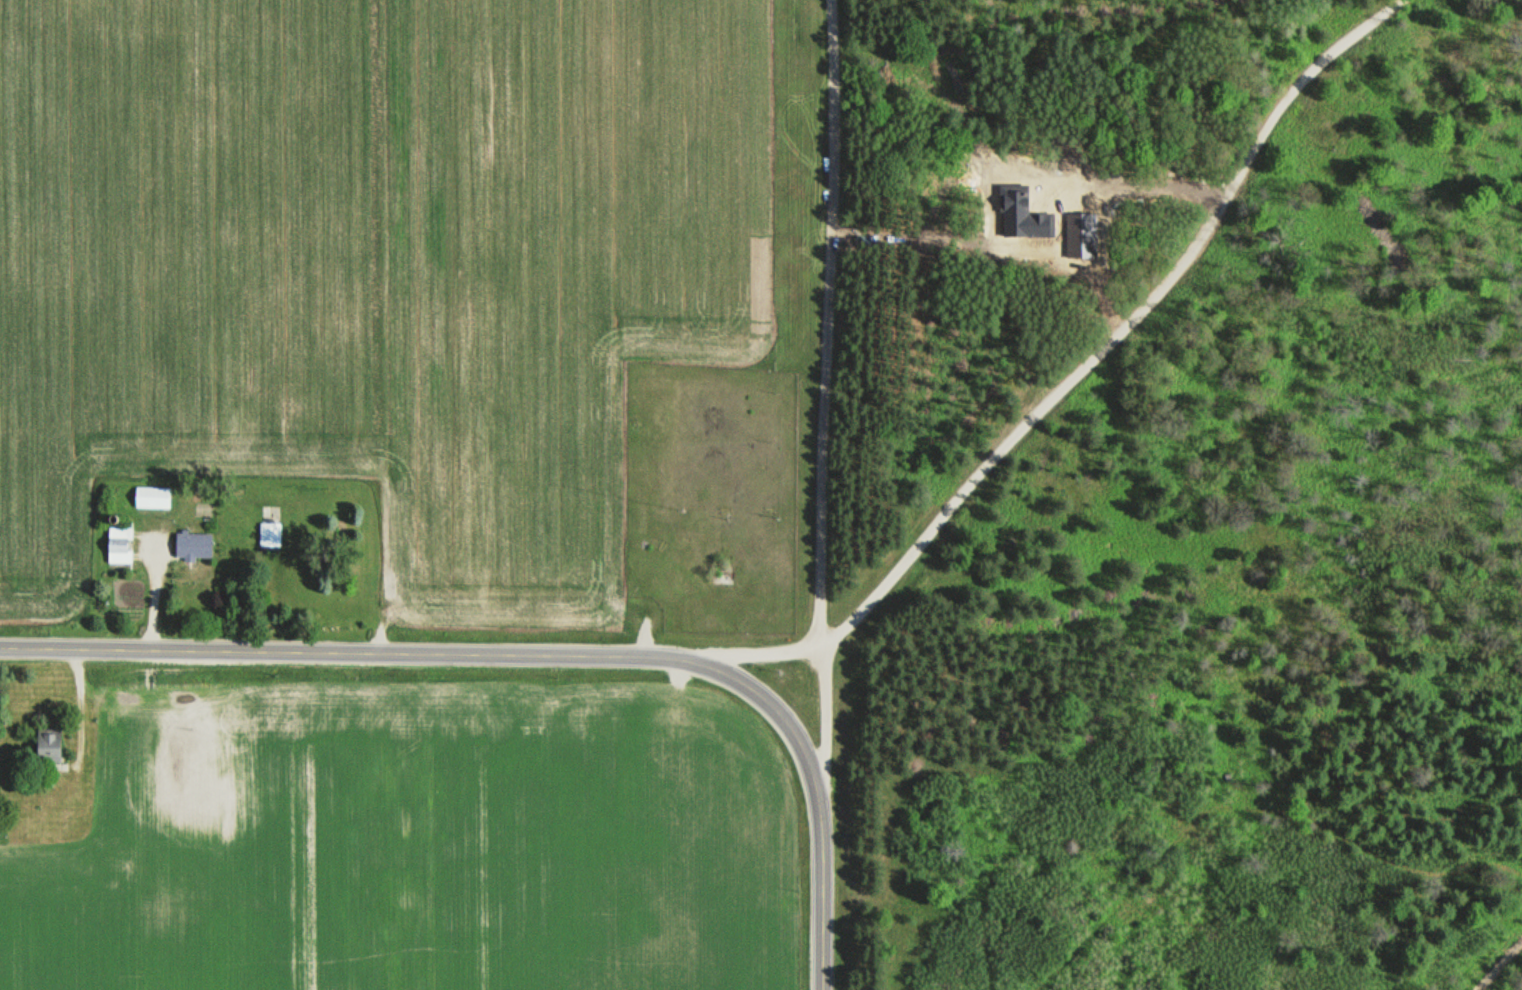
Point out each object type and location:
road: (1121, 327)
road: (828, 402)
building: (153, 498)
building: (271, 535)
building: (120, 546)
building: (194, 546)
road: (334, 652)
road: (746, 653)
road: (768, 707)
building: (49, 745)
road: (821, 897)
road: (1499, 965)

